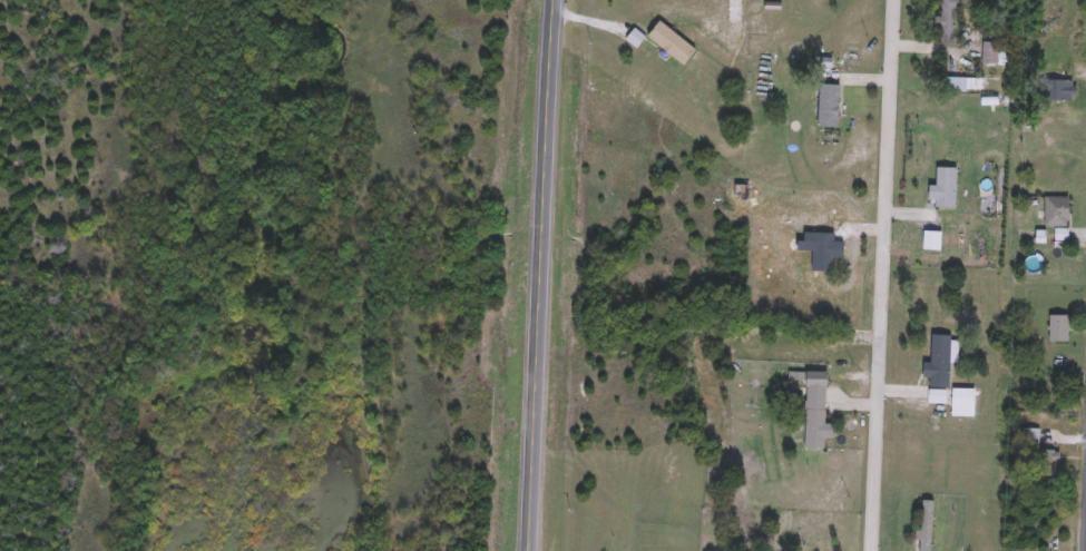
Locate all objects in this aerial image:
building: (947, 18)
building: (672, 42)
building: (1057, 89)
building: (829, 105)
building: (945, 187)
building: (1057, 211)
building: (822, 253)
road: (539, 275)
road: (882, 275)
building: (1059, 328)
building: (939, 362)
building: (937, 396)
building: (962, 403)
building: (816, 411)
building: (1045, 462)
building: (926, 525)
road: (1085, 533)

